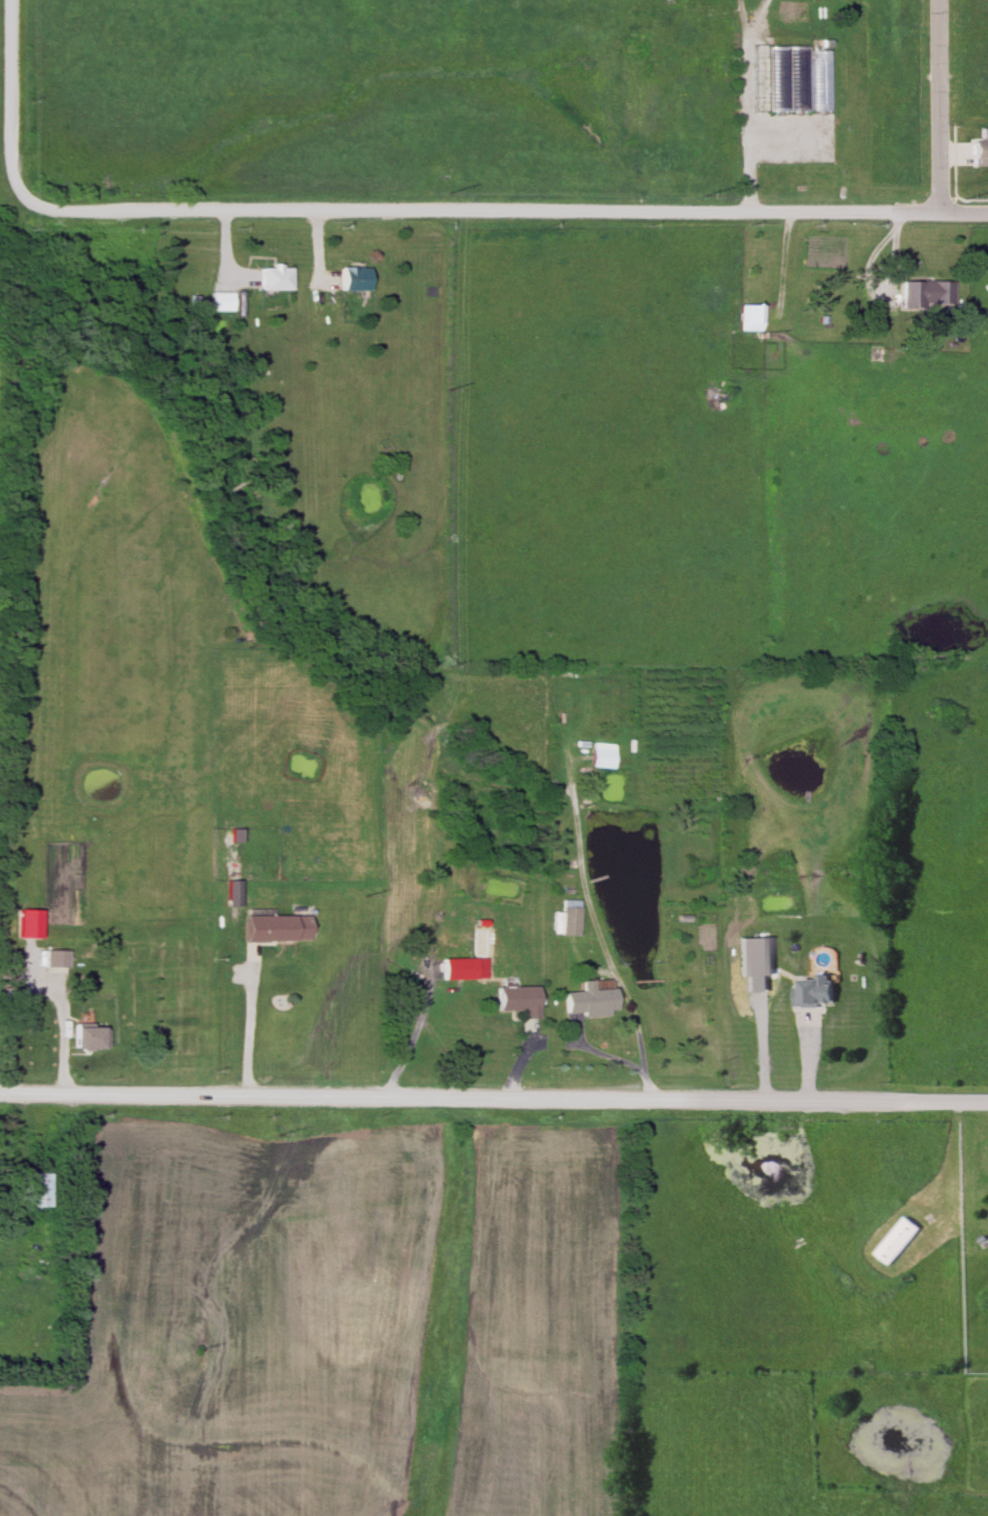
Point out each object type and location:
road: (747, 33)
building: (807, 69)
road: (12, 100)
road: (936, 107)
road: (746, 124)
building: (979, 146)
road: (506, 211)
building: (273, 276)
building: (352, 277)
building: (922, 291)
building: (237, 300)
building: (218, 302)
building: (747, 318)
crop: (2, 449)
building: (600, 757)
building: (564, 920)
building: (273, 930)
building: (753, 956)
building: (50, 960)
building: (463, 970)
building: (813, 992)
building: (516, 1002)
building: (587, 1002)
road: (250, 1033)
building: (77, 1039)
road: (759, 1047)
road: (494, 1098)
building: (35, 1191)
building: (898, 1240)
crop: (238, 1325)
crop: (543, 1326)

